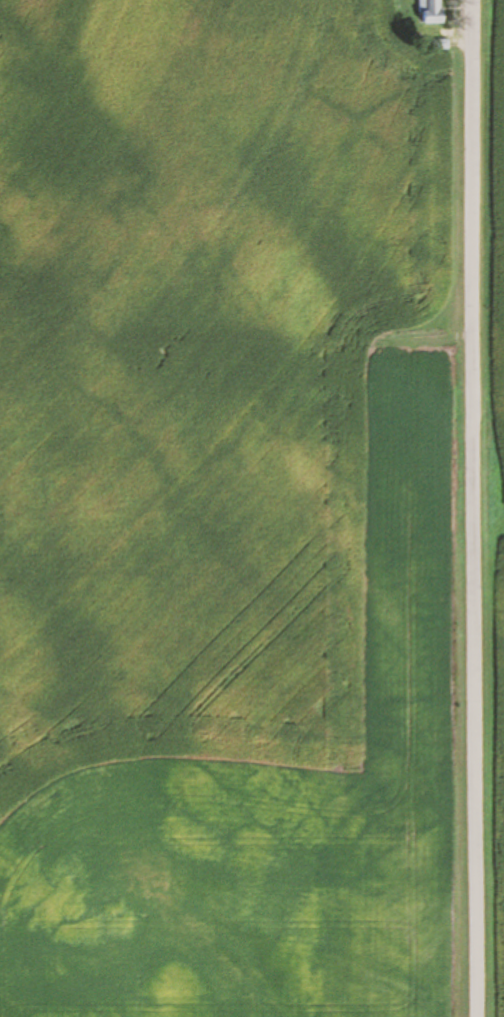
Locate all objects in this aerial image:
building: (433, 12)
road: (479, 508)

